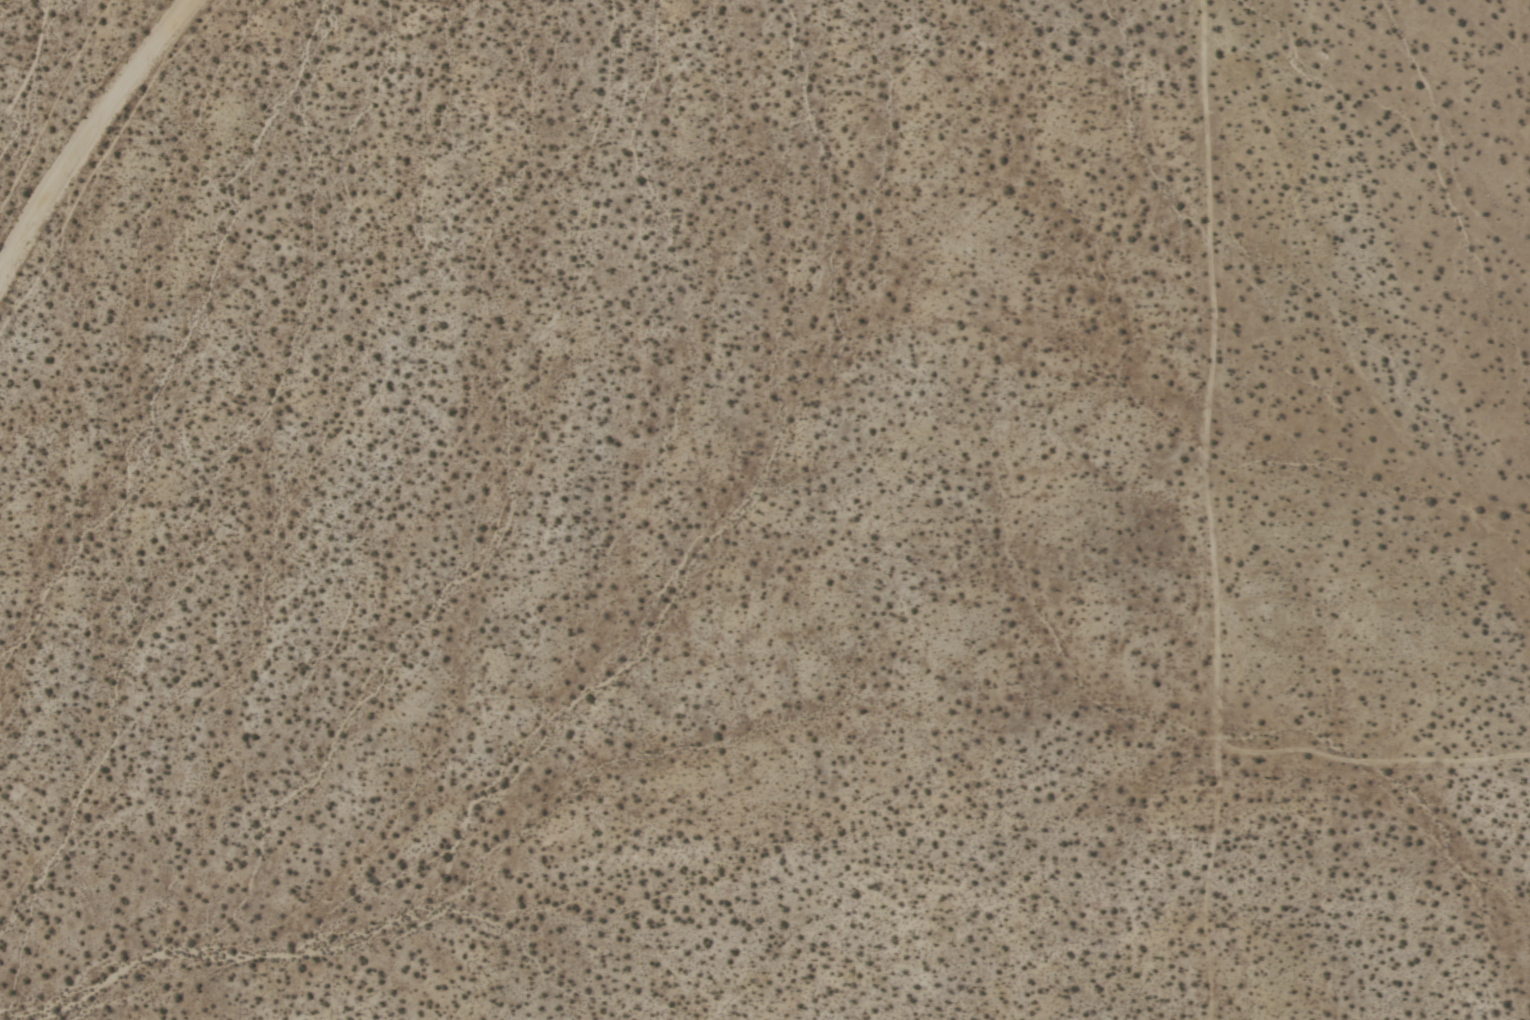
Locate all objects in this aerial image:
road: (88, 132)
crop: (765, 510)

